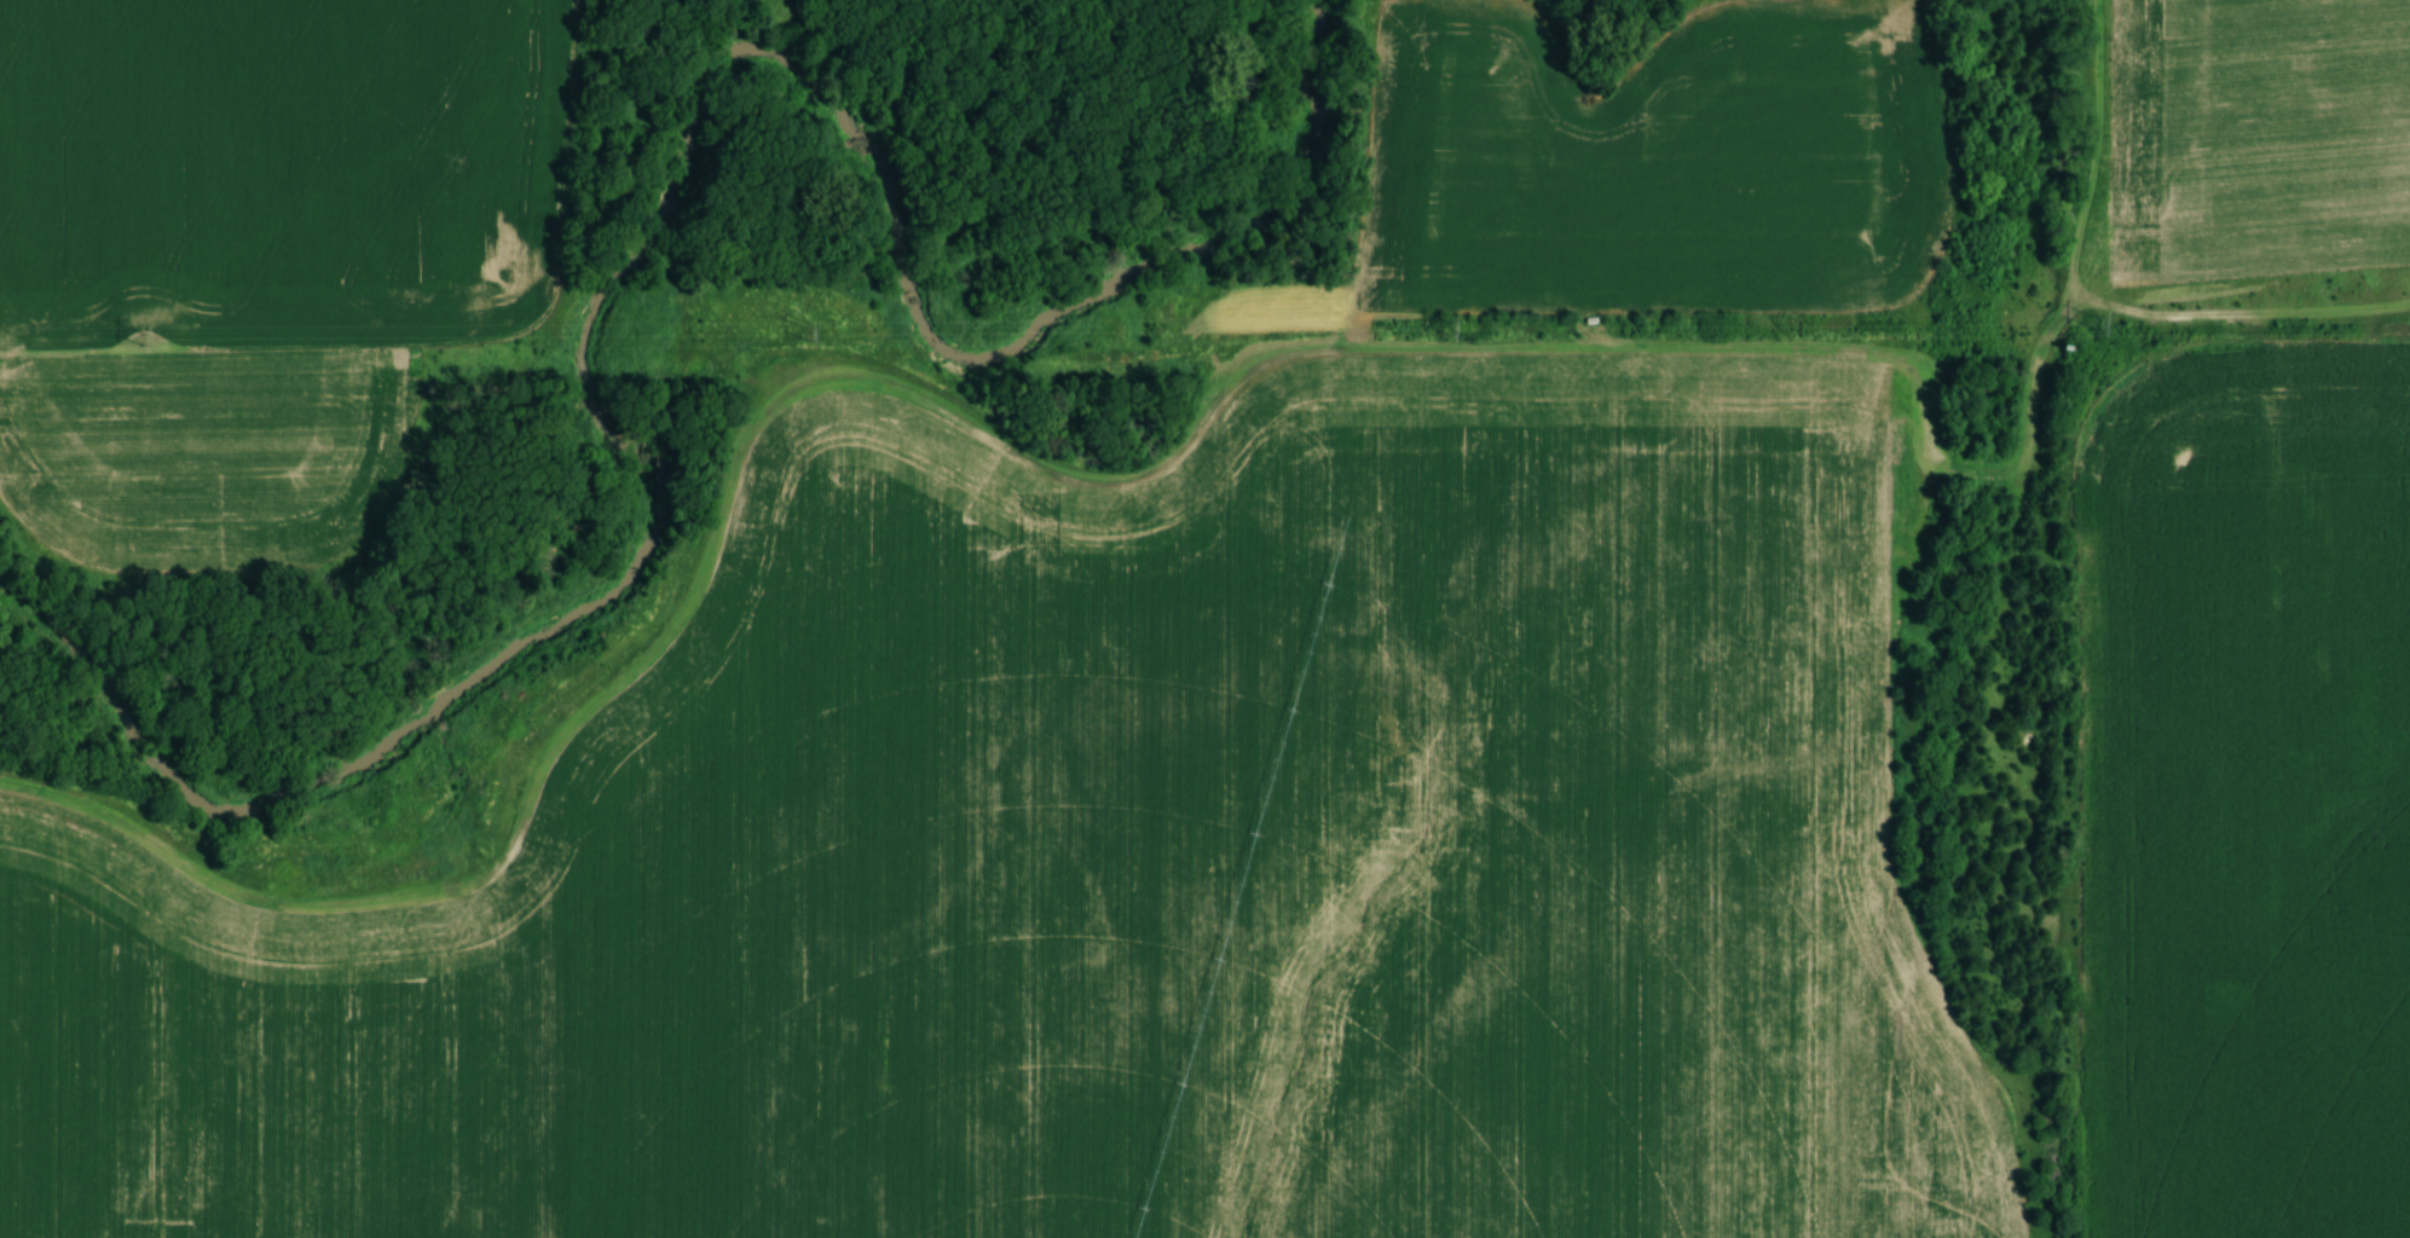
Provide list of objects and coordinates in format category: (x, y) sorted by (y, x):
power tower: (2094, 324)
power tower: (1449, 330)
power tower: (804, 336)
power tower: (143, 340)

